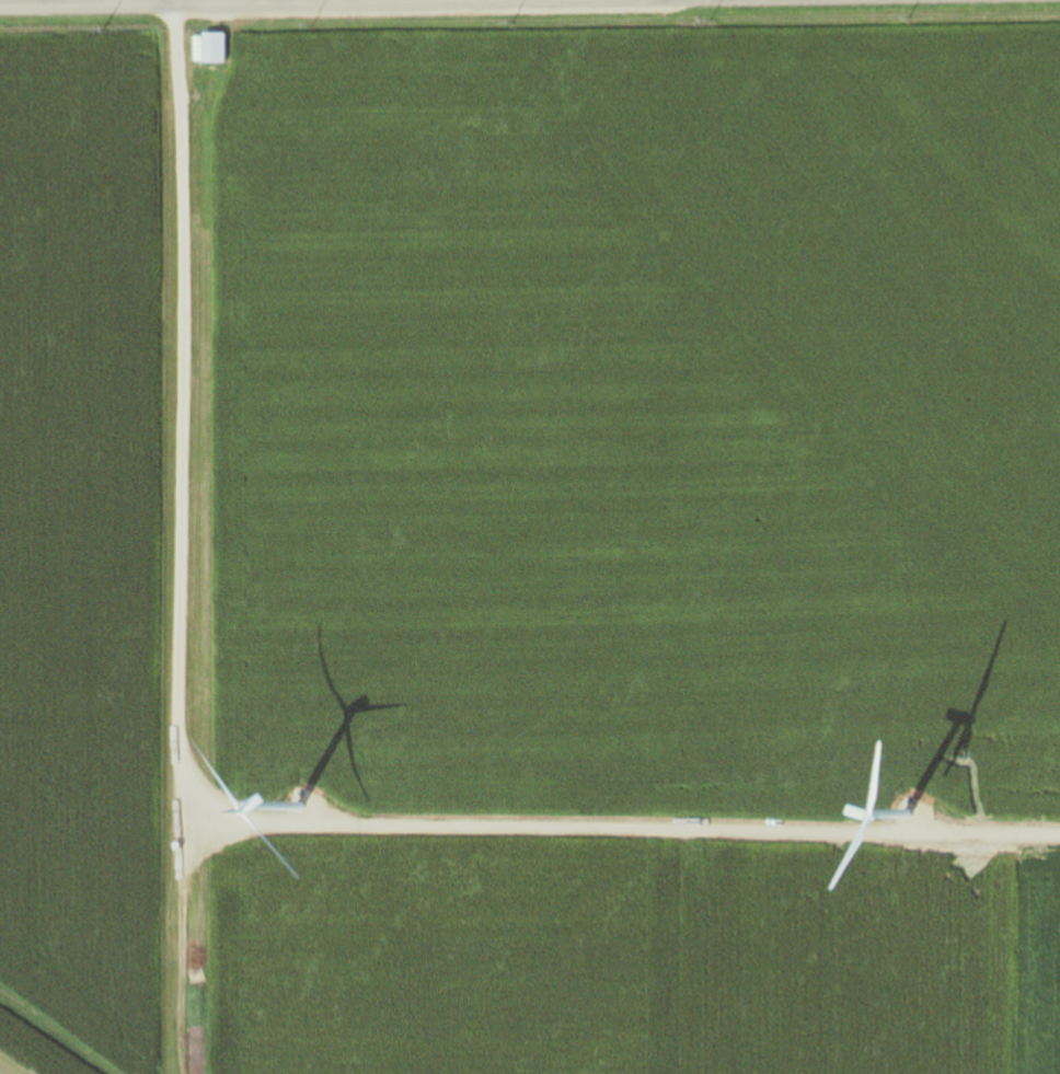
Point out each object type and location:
road: (255, 3)
building: (212, 48)
wind turbine: (331, 823)
wind turbine: (944, 850)

